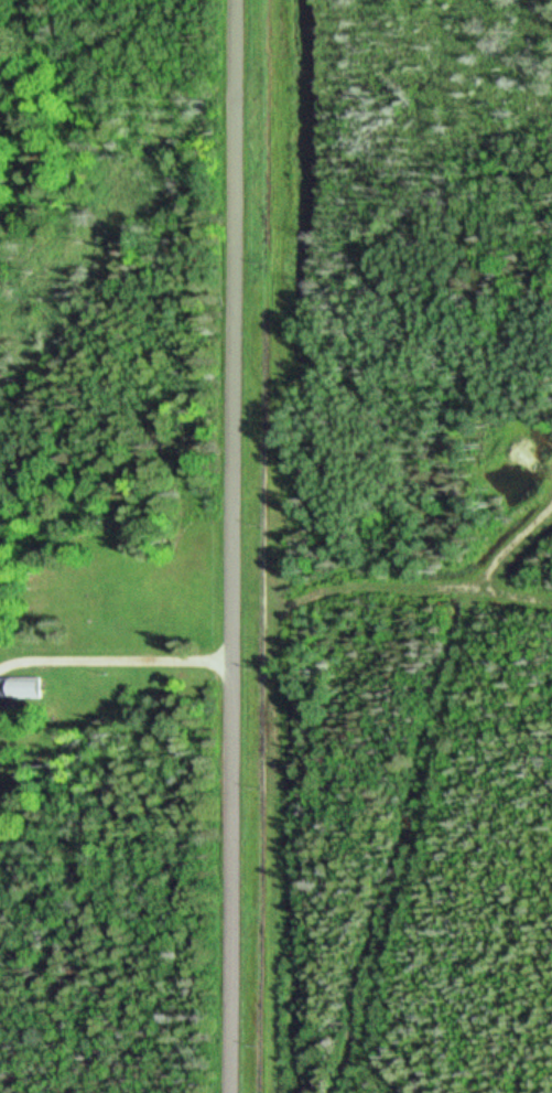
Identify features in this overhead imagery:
road: (234, 546)
building: (18, 687)

